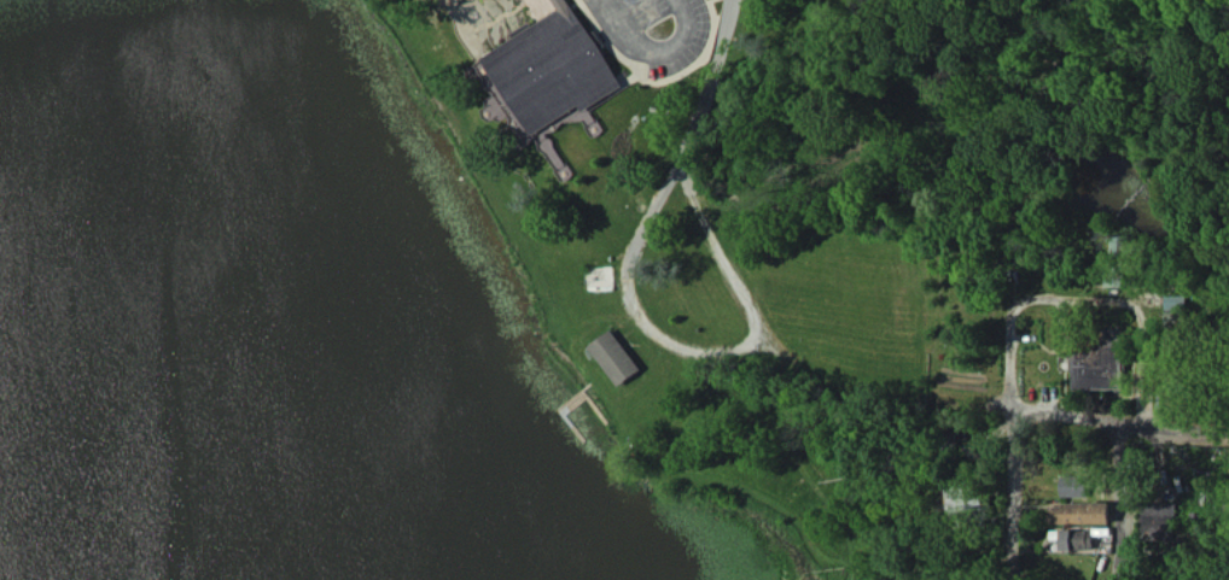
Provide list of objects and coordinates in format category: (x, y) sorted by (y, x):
road: (663, 48)
building: (551, 71)
road: (678, 171)
road: (724, 252)
road: (1077, 299)
building: (1175, 301)
building: (616, 357)
building: (1097, 364)
road: (892, 396)
road: (1187, 435)
building: (1073, 486)
road: (995, 496)
building: (967, 498)
road: (1147, 503)
building: (1081, 512)
building: (1159, 521)
building: (1077, 539)

